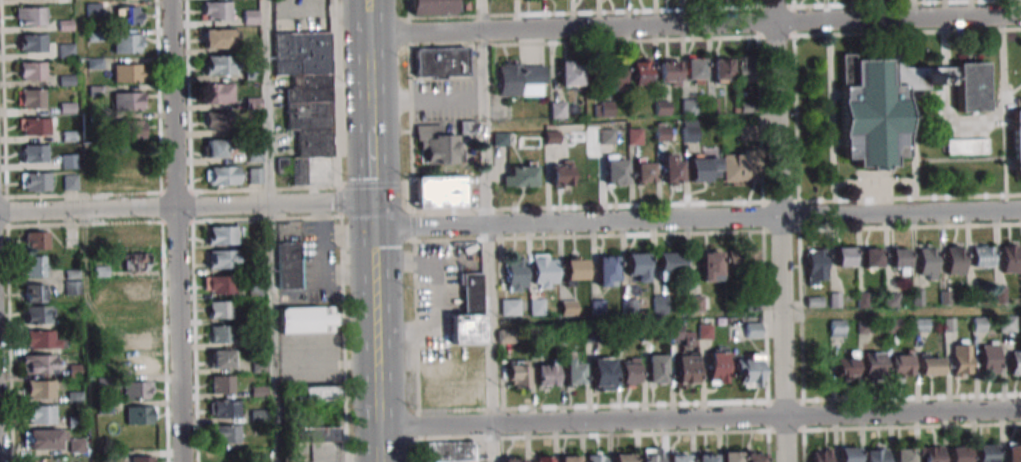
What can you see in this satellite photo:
road: (367, 5)
building: (431, 6)
building: (216, 11)
building: (128, 15)
building: (31, 16)
building: (251, 17)
road: (368, 23)
road: (694, 25)
building: (217, 38)
building: (127, 42)
building: (32, 43)
building: (441, 62)
building: (219, 65)
building: (745, 69)
building: (32, 70)
building: (694, 70)
building: (721, 70)
building: (127, 72)
building: (668, 72)
building: (641, 74)
building: (570, 75)
building: (613, 75)
road: (369, 76)
building: (521, 79)
building: (218, 93)
building: (32, 98)
road: (427, 98)
building: (130, 100)
building: (307, 103)
building: (896, 104)
building: (605, 107)
building: (557, 110)
building: (214, 120)
building: (36, 126)
building: (466, 127)
building: (133, 129)
building: (690, 131)
building: (662, 132)
building: (1017, 142)
building: (437, 145)
building: (965, 146)
building: (216, 148)
building: (34, 153)
building: (254, 154)
building: (68, 161)
road: (371, 161)
building: (737, 166)
building: (671, 168)
building: (704, 169)
building: (615, 171)
building: (644, 172)
building: (560, 173)
building: (222, 175)
building: (255, 175)
building: (520, 176)
building: (35, 181)
building: (70, 182)
building: (439, 192)
road: (273, 206)
traffic signals: (372, 206)
road: (87, 211)
road: (372, 215)
road: (697, 219)
traffic signals: (373, 225)
road: (175, 230)
road: (271, 230)
road: (487, 231)
road: (779, 231)
building: (221, 235)
building: (133, 237)
building: (35, 240)
building: (981, 256)
building: (844, 257)
building: (871, 257)
building: (899, 257)
building: (1009, 258)
building: (220, 259)
building: (743, 260)
building: (954, 260)
building: (137, 261)
building: (927, 261)
building: (669, 264)
building: (815, 264)
building: (33, 266)
building: (288, 266)
building: (710, 266)
building: (637, 267)
building: (575, 269)
building: (606, 270)
building: (544, 271)
building: (515, 273)
building: (72, 282)
building: (219, 284)
building: (139, 290)
building: (34, 293)
road: (377, 296)
building: (945, 297)
building: (892, 299)
building: (834, 300)
building: (861, 300)
building: (659, 303)
building: (628, 305)
building: (536, 306)
building: (219, 309)
road: (901, 311)
building: (468, 312)
building: (38, 314)
building: (136, 315)
building: (307, 319)
building: (1007, 324)
building: (892, 325)
building: (920, 325)
building: (837, 326)
building: (864, 326)
building: (752, 330)
building: (704, 331)
building: (221, 333)
building: (503, 336)
building: (42, 339)
building: (137, 340)
building: (684, 357)
building: (222, 358)
building: (988, 358)
building: (961, 359)
building: (873, 362)
building: (1015, 362)
building: (39, 363)
building: (142, 365)
building: (717, 365)
building: (847, 365)
building: (902, 365)
building: (930, 365)
building: (656, 369)
building: (748, 370)
building: (573, 371)
building: (629, 372)
building: (518, 373)
building: (545, 374)
building: (602, 374)
building: (221, 384)
building: (40, 388)
building: (137, 389)
building: (315, 393)
building: (224, 408)
building: (41, 414)
building: (139, 414)
road: (382, 414)
road: (701, 419)
building: (226, 433)
building: (321, 435)
building: (41, 439)
building: (76, 445)
building: (448, 452)
building: (1013, 452)
building: (933, 453)
building: (985, 453)
building: (651, 454)
building: (847, 454)
building: (875, 454)
building: (902, 454)
building: (959, 454)
building: (821, 455)
building: (706, 456)
building: (731, 456)
building: (754, 456)
building: (623, 457)
building: (678, 457)
building: (141, 458)
building: (540, 458)
building: (568, 458)
building: (596, 458)
building: (513, 459)

